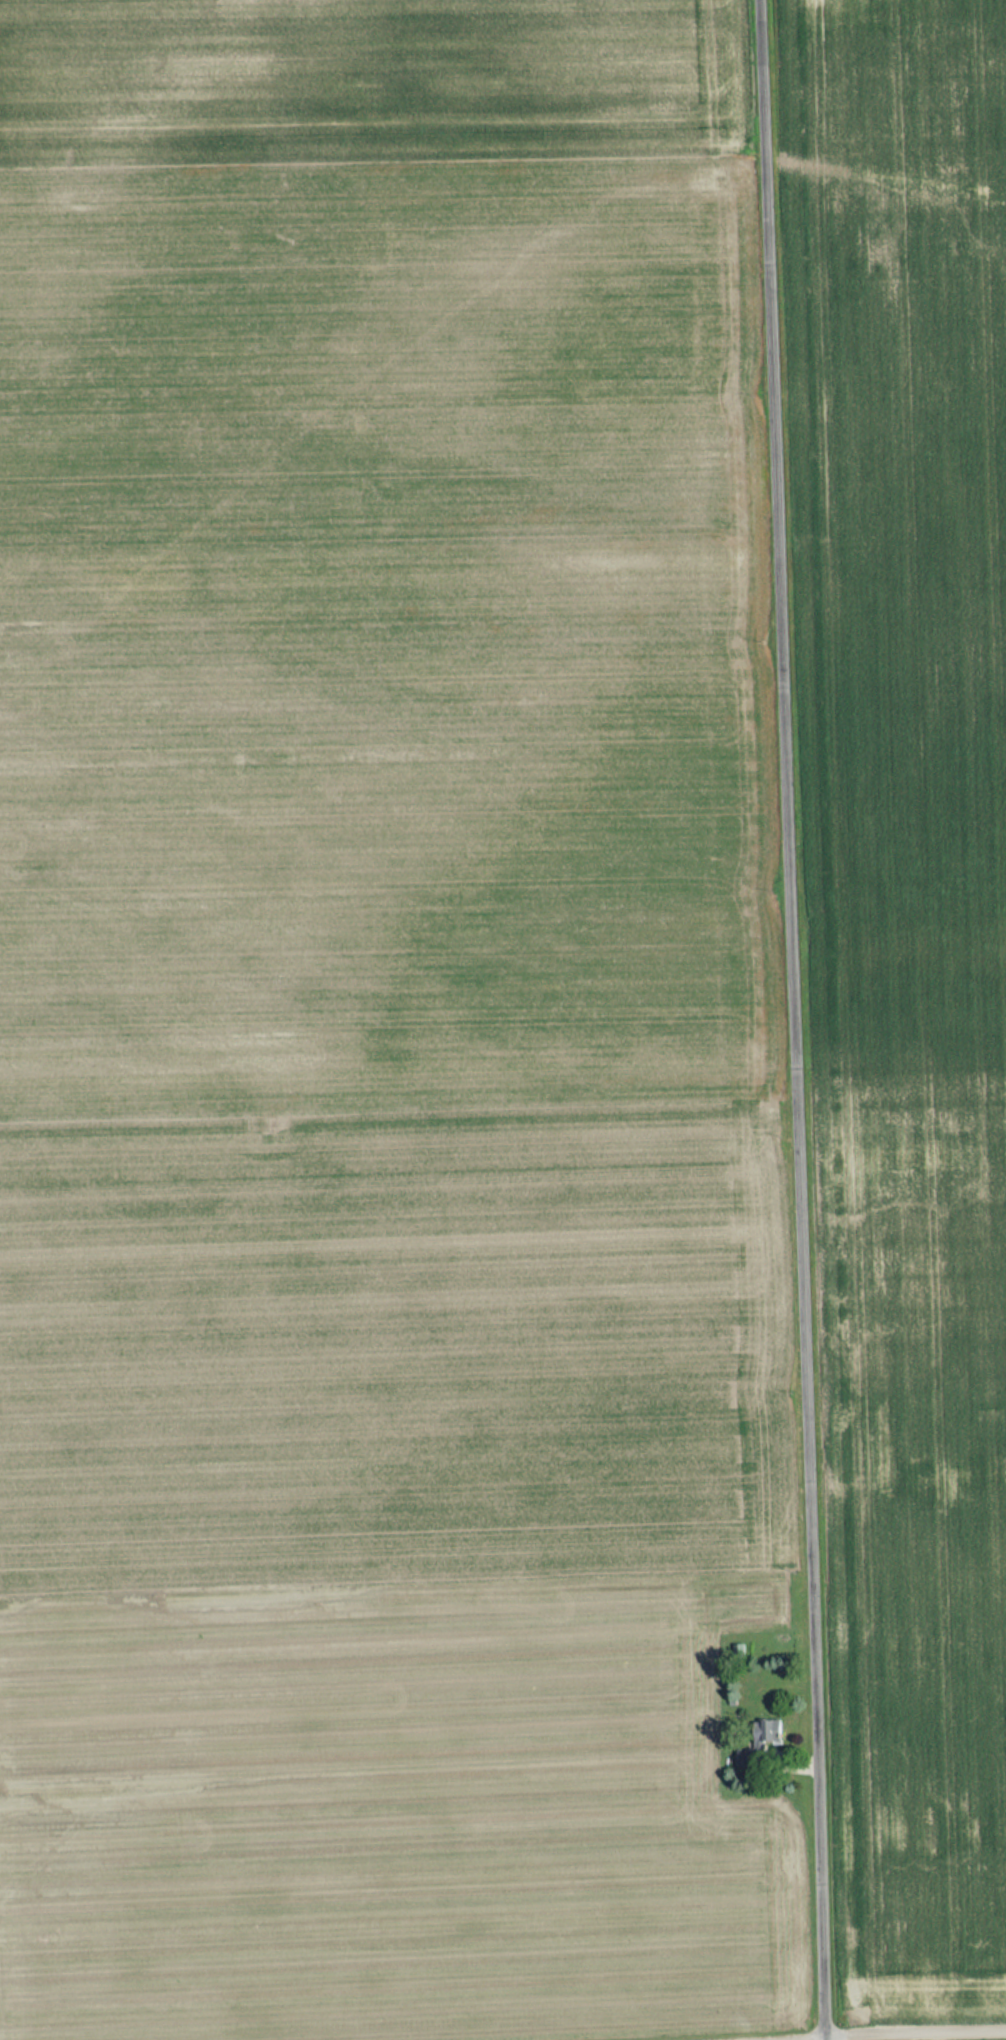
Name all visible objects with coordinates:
crop: (910, 943)
crop: (380, 1014)
road: (795, 1019)
building: (762, 1729)
road: (836, 2032)

